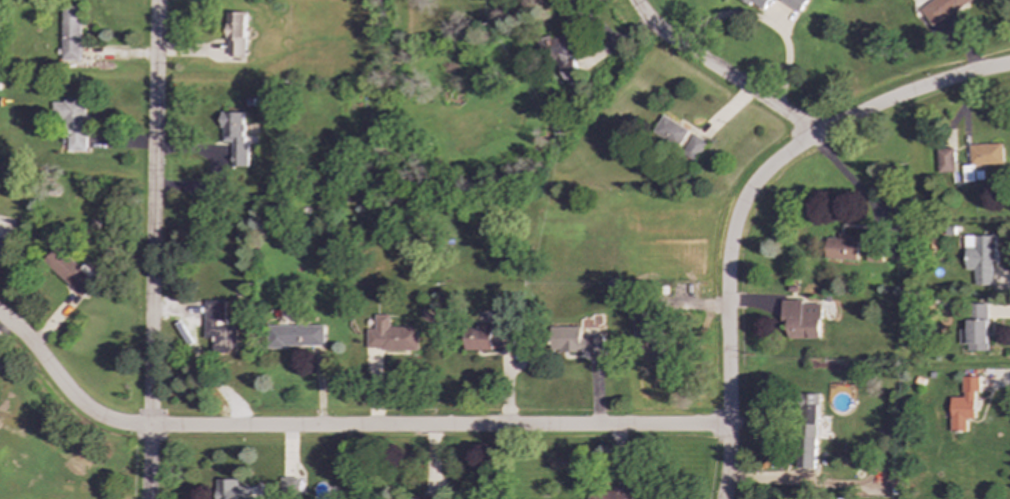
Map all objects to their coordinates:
building: (757, 4)
building: (794, 4)
building: (938, 9)
building: (71, 32)
building: (236, 34)
building: (563, 57)
road: (719, 72)
road: (909, 92)
building: (70, 123)
building: (679, 136)
building: (235, 137)
building: (984, 153)
building: (944, 160)
road: (850, 180)
building: (842, 247)
road: (151, 249)
building: (979, 258)
building: (68, 271)
road: (725, 299)
building: (801, 318)
building: (209, 323)
building: (975, 328)
building: (296, 336)
building: (390, 336)
building: (645, 336)
building: (489, 337)
building: (573, 340)
building: (963, 404)
road: (341, 427)
building: (806, 430)
building: (287, 486)
building: (230, 489)
building: (608, 494)
building: (409, 497)

